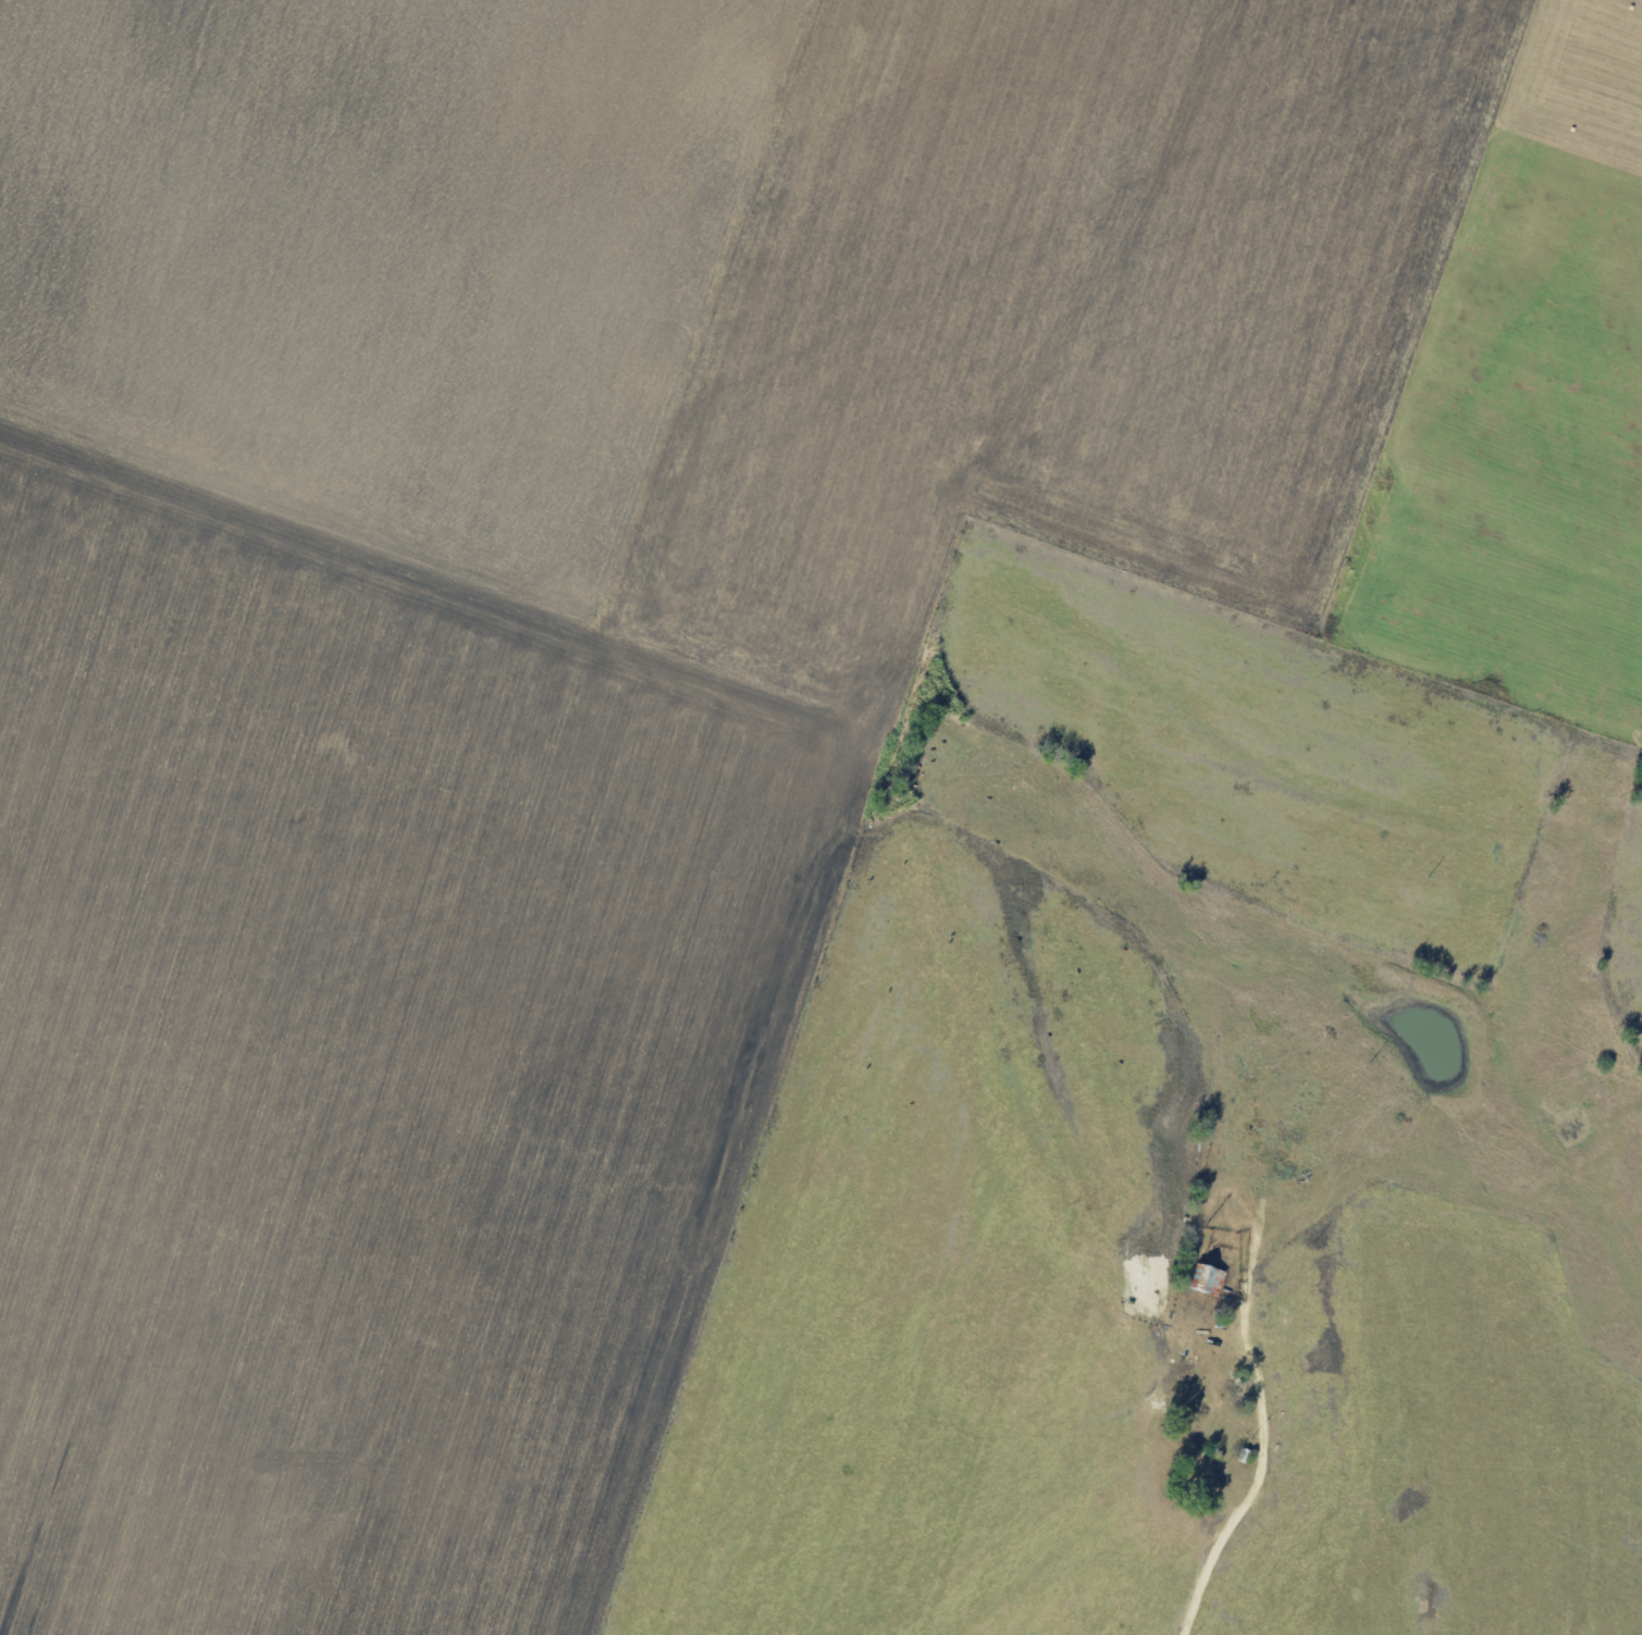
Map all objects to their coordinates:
building: (1209, 1281)
road: (1200, 1596)

